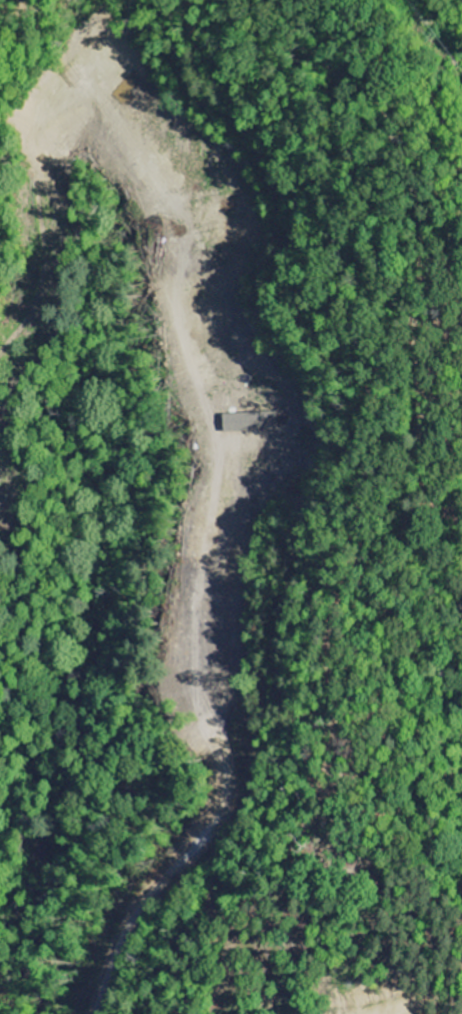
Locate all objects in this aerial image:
road: (140, 886)

